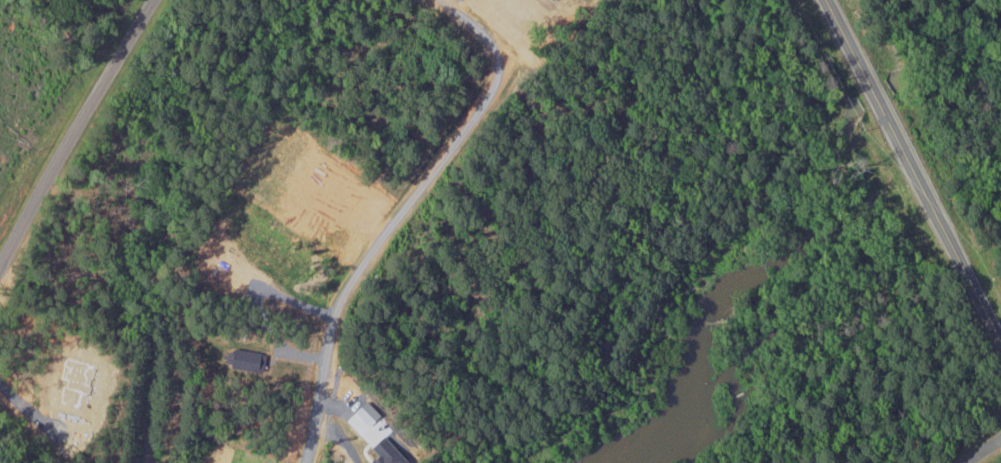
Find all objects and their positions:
road: (73, 132)
road: (912, 171)
road: (405, 220)
road: (982, 449)

